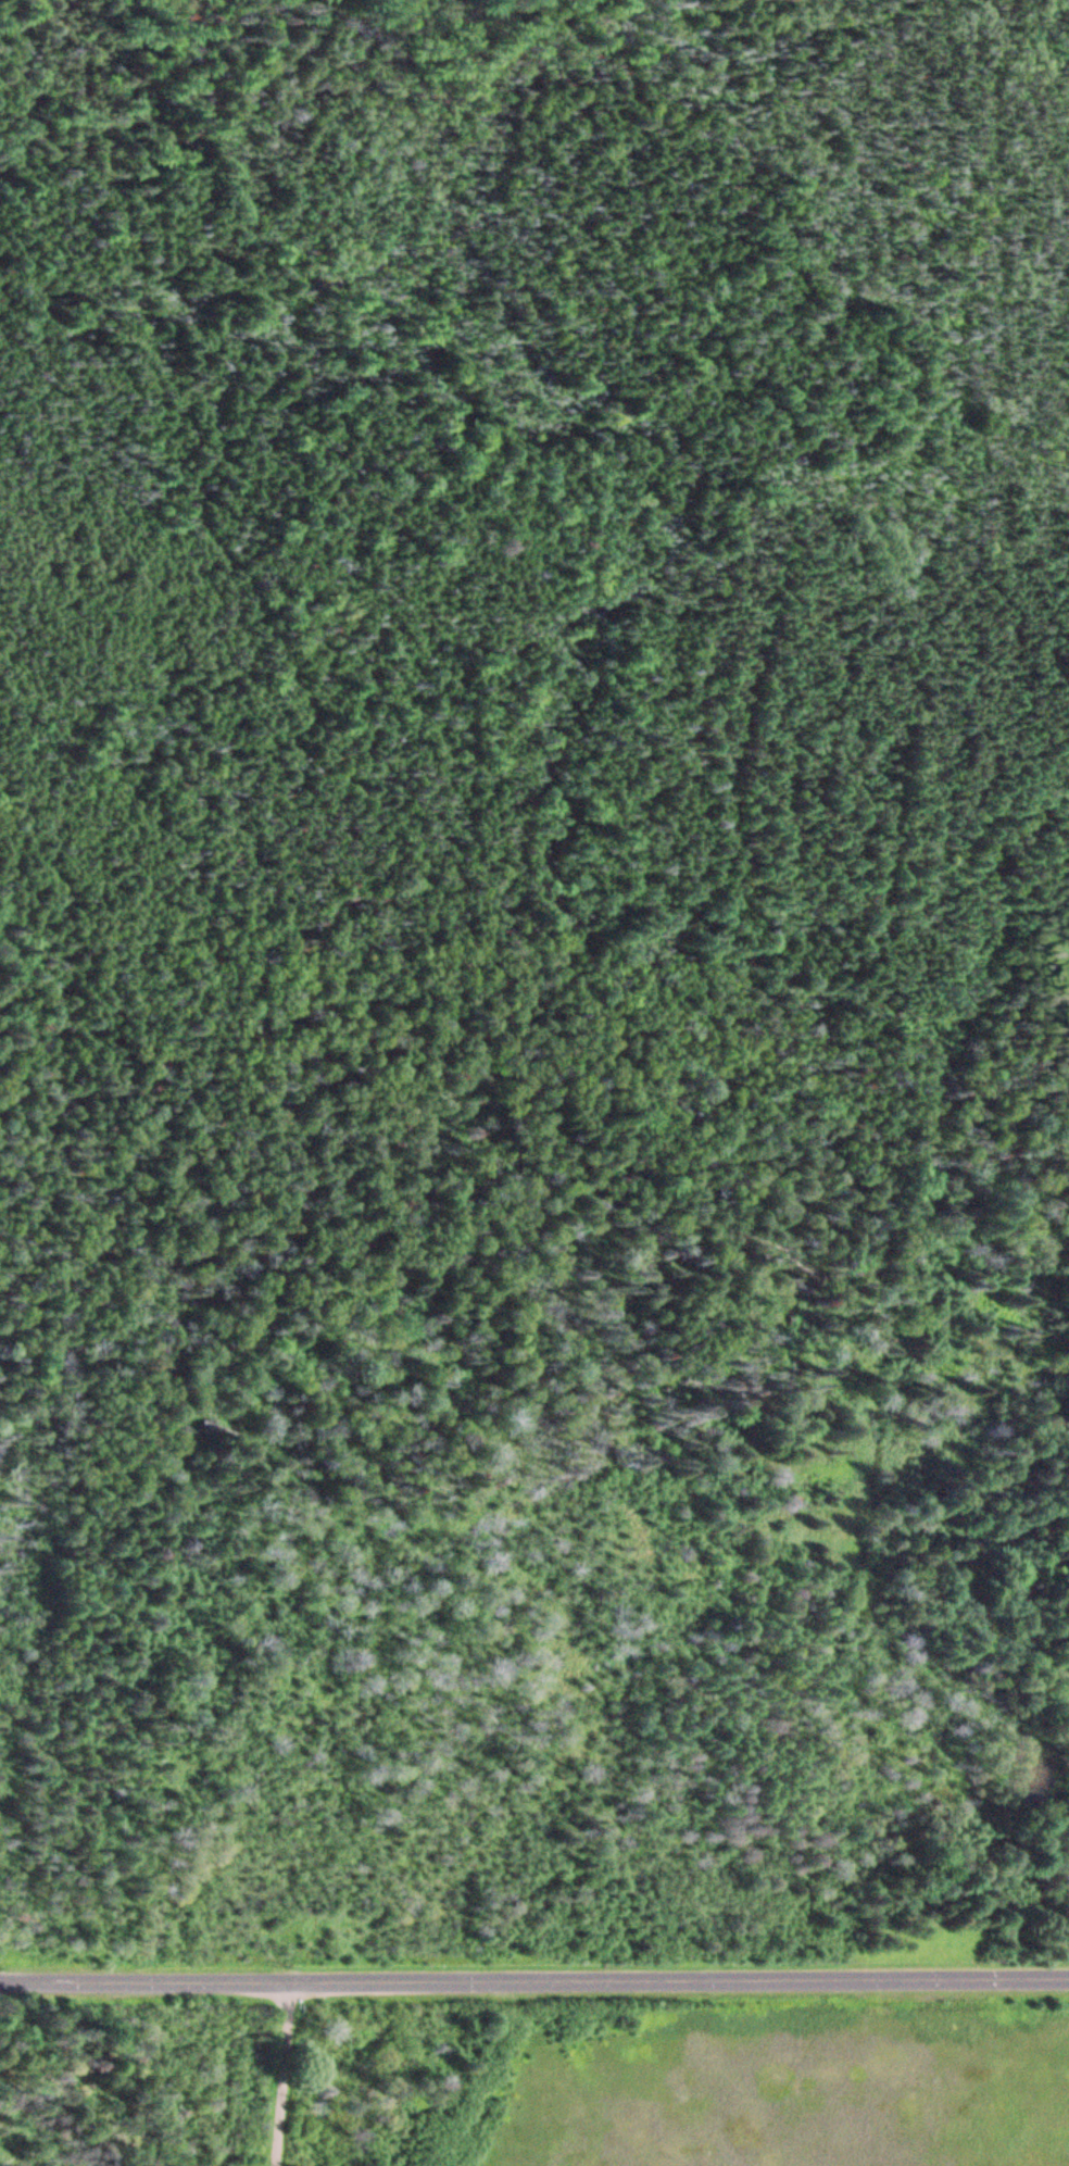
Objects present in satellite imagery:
road: (533, 1980)

